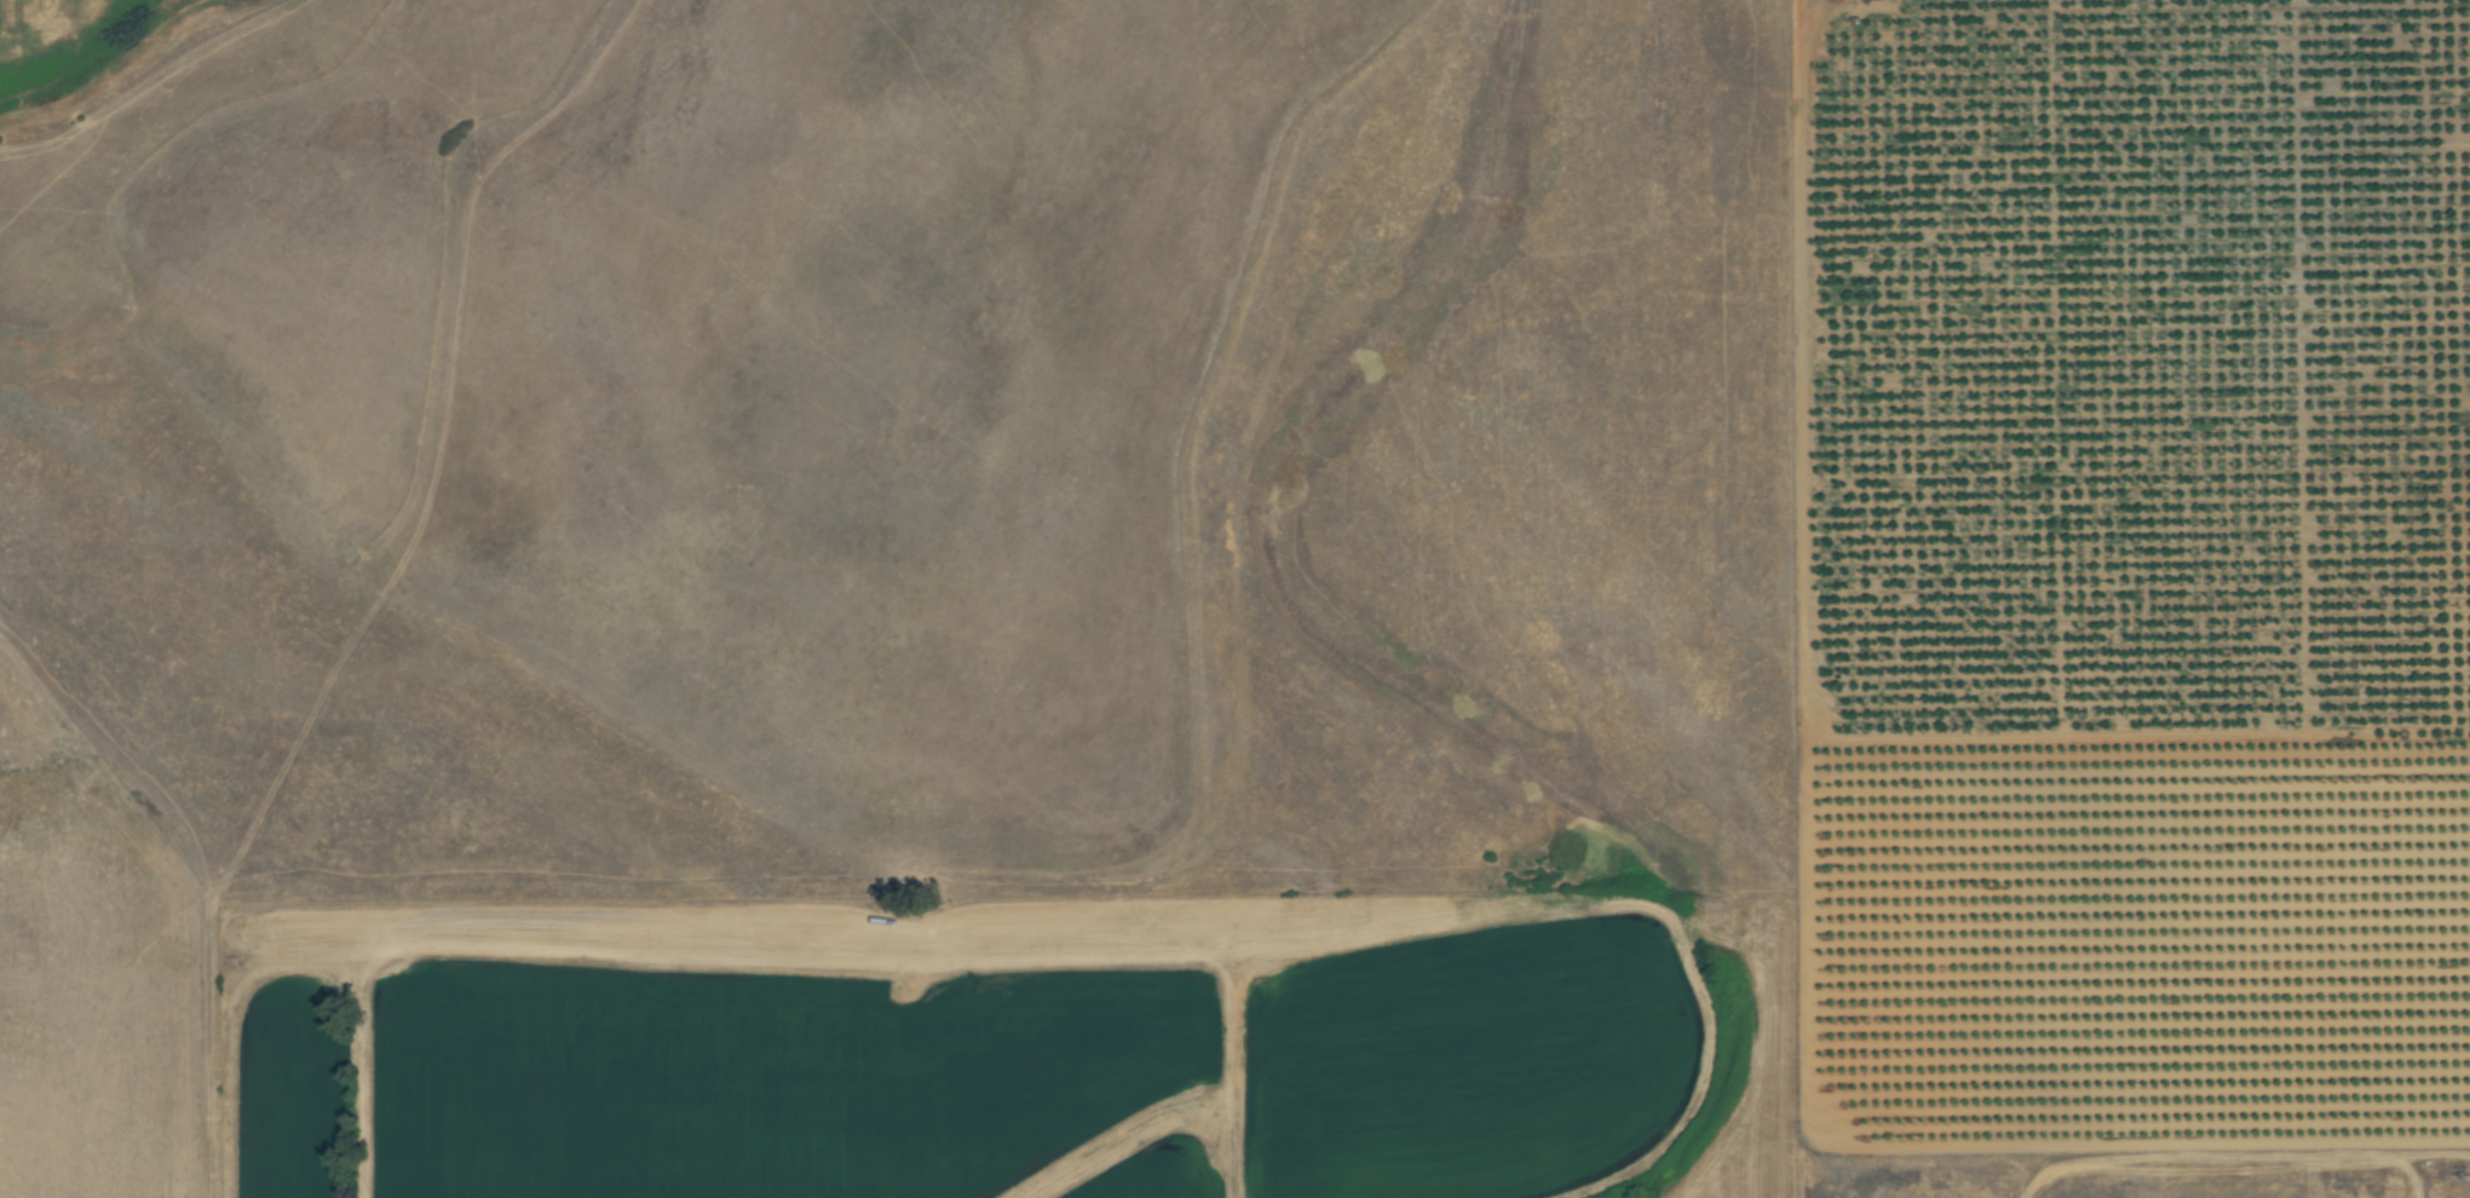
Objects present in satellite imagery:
road: (2223, 1167)

